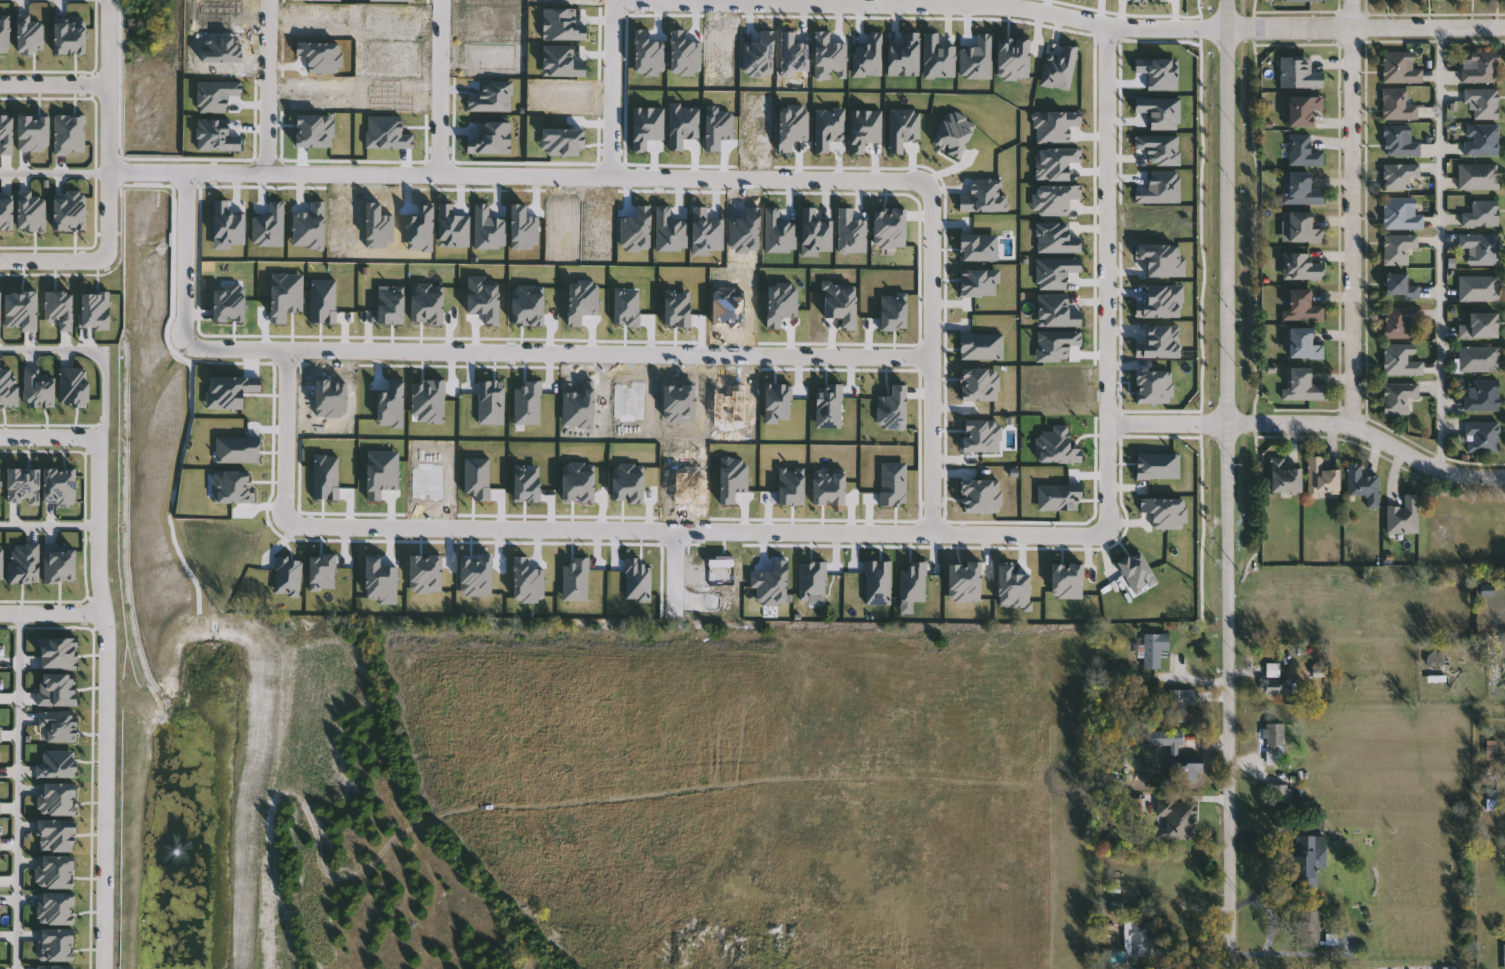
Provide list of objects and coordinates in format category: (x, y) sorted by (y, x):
building: (1302, 0)
road: (1108, 27)
building: (1478, 66)
building: (1399, 68)
building: (1298, 72)
road: (53, 86)
road: (268, 86)
road: (442, 88)
road: (611, 88)
building: (1481, 101)
building: (1397, 104)
building: (1301, 109)
road: (107, 130)
building: (1480, 140)
building: (1398, 141)
building: (1302, 150)
road: (53, 171)
building: (1398, 175)
building: (1477, 175)
road: (518, 176)
building: (1301, 189)
road: (1353, 210)
building: (1400, 213)
building: (1481, 214)
building: (1302, 227)
building: (1480, 247)
building: (1397, 248)
road: (1443, 248)
road: (54, 259)
road: (184, 259)
building: (1301, 266)
road: (1106, 281)
building: (1398, 286)
building: (1478, 288)
building: (1301, 305)
building: (1399, 320)
building: (1480, 325)
building: (1302, 343)
road: (556, 351)
road: (90, 353)
road: (931, 356)
building: (1478, 358)
building: (1401, 359)
building: (1301, 384)
building: (1483, 396)
building: (1397, 397)
road: (1313, 420)
road: (284, 436)
building: (1481, 436)
road: (49, 437)
building: (1283, 477)
building: (1320, 478)
road: (1225, 484)
building: (1362, 484)
building: (1402, 515)
road: (48, 525)
road: (695, 529)
building: (1329, 603)
building: (1267, 608)
road: (52, 613)
building: (1155, 650)
building: (1277, 682)
road: (1484, 695)
road: (105, 703)
building: (1181, 704)
building: (1275, 744)
building: (1176, 756)
road: (18, 791)
building: (1282, 794)
building: (1309, 860)
fountain: (182, 862)
building: (1309, 928)
building: (1142, 940)

